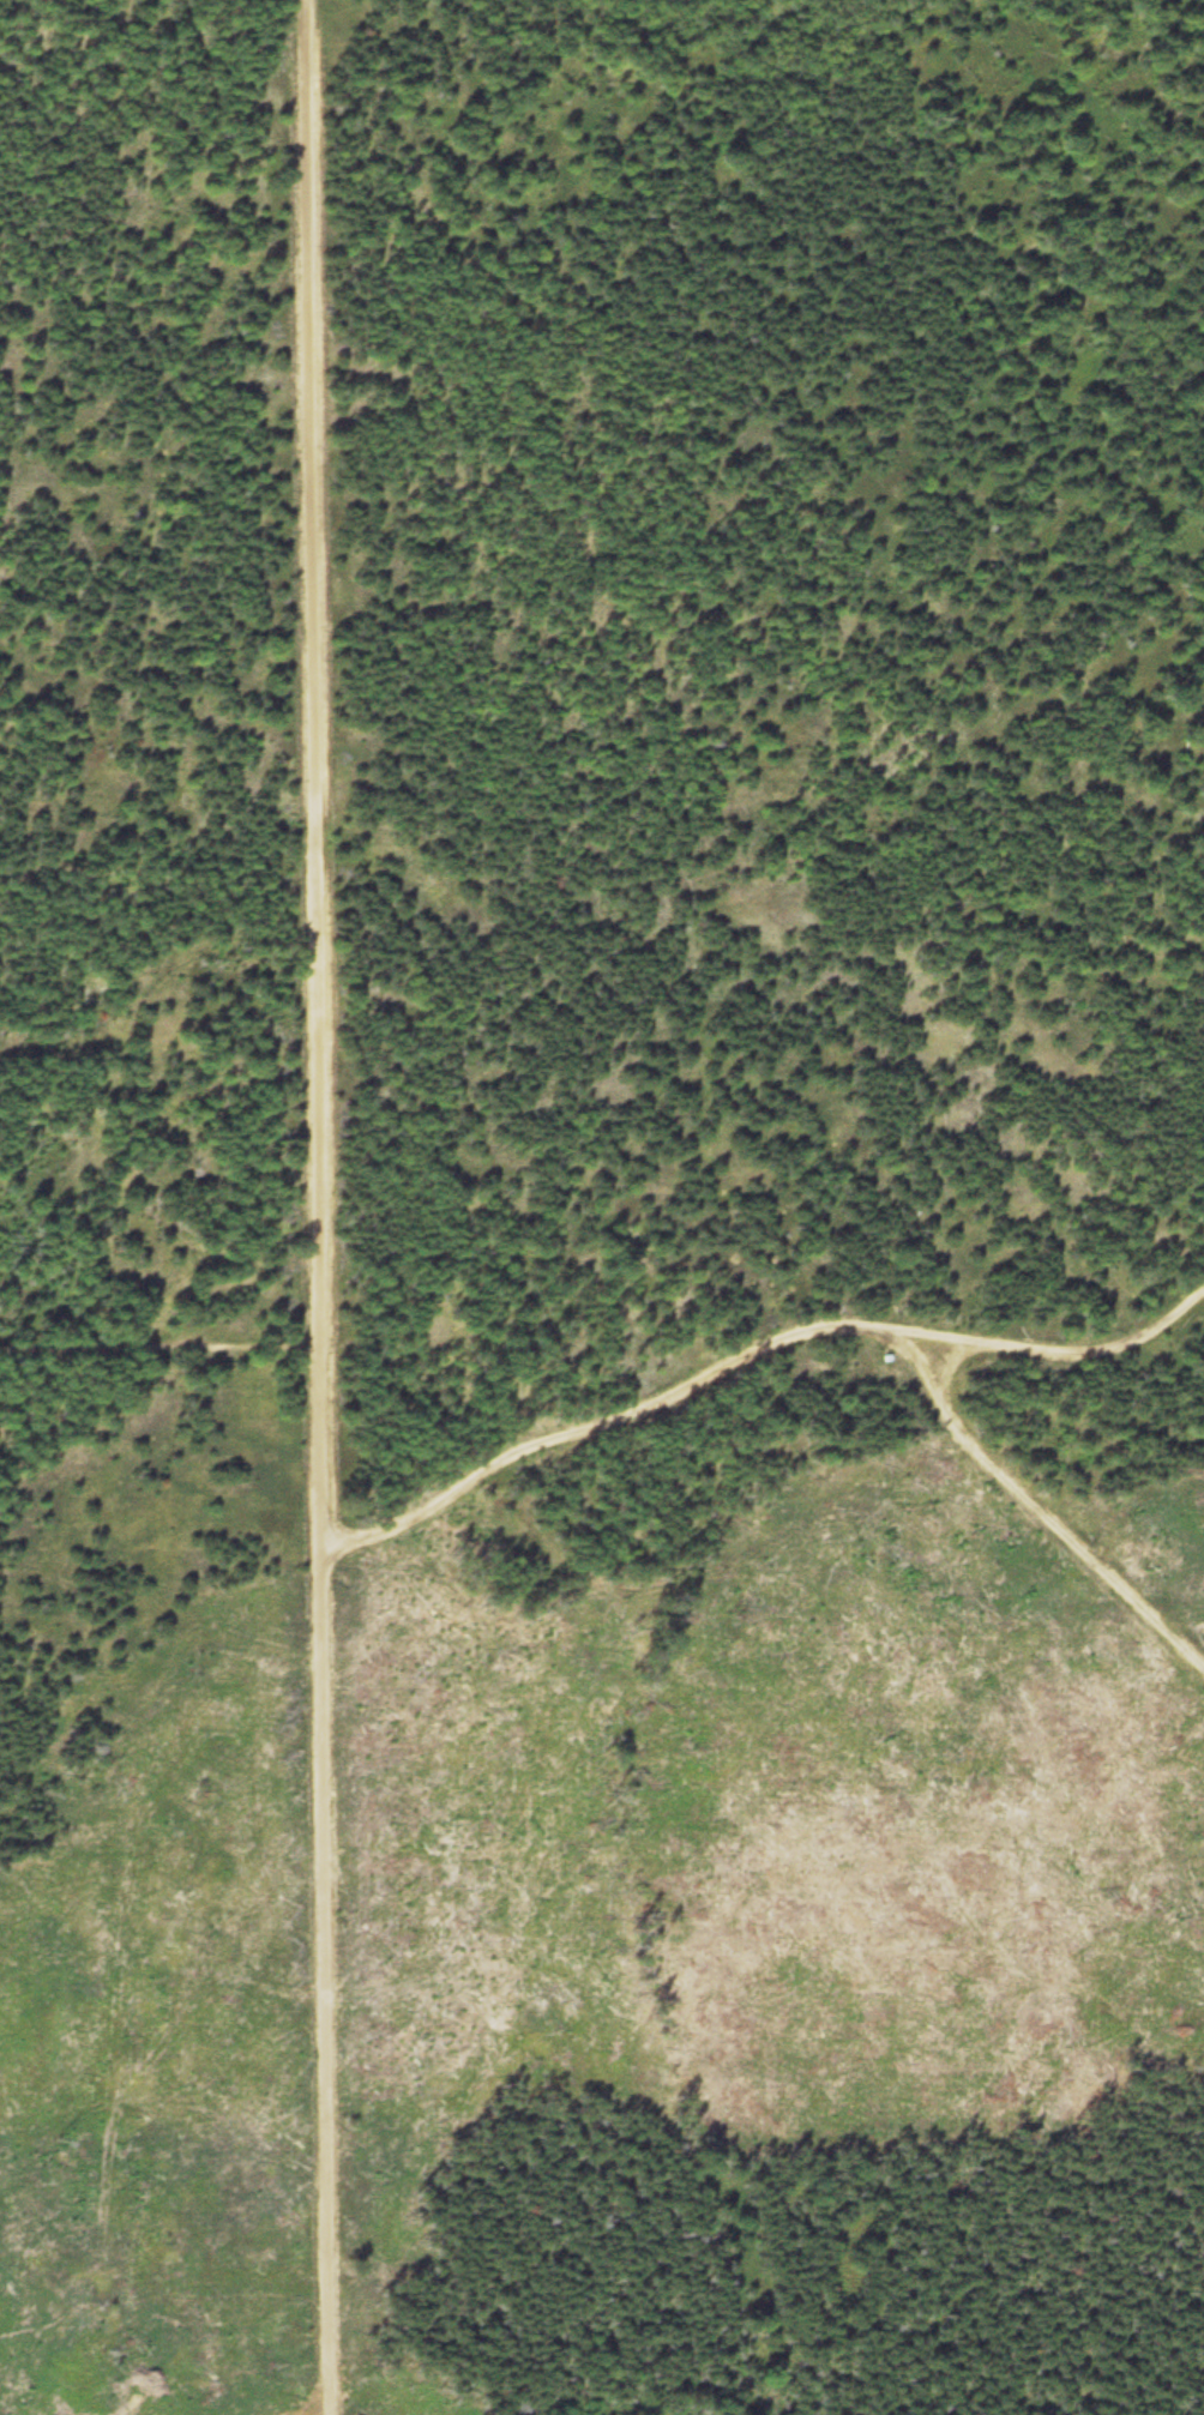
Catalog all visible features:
road: (318, 675)
road: (757, 1350)
road: (163, 1351)
road: (1042, 1502)
road: (332, 1883)

